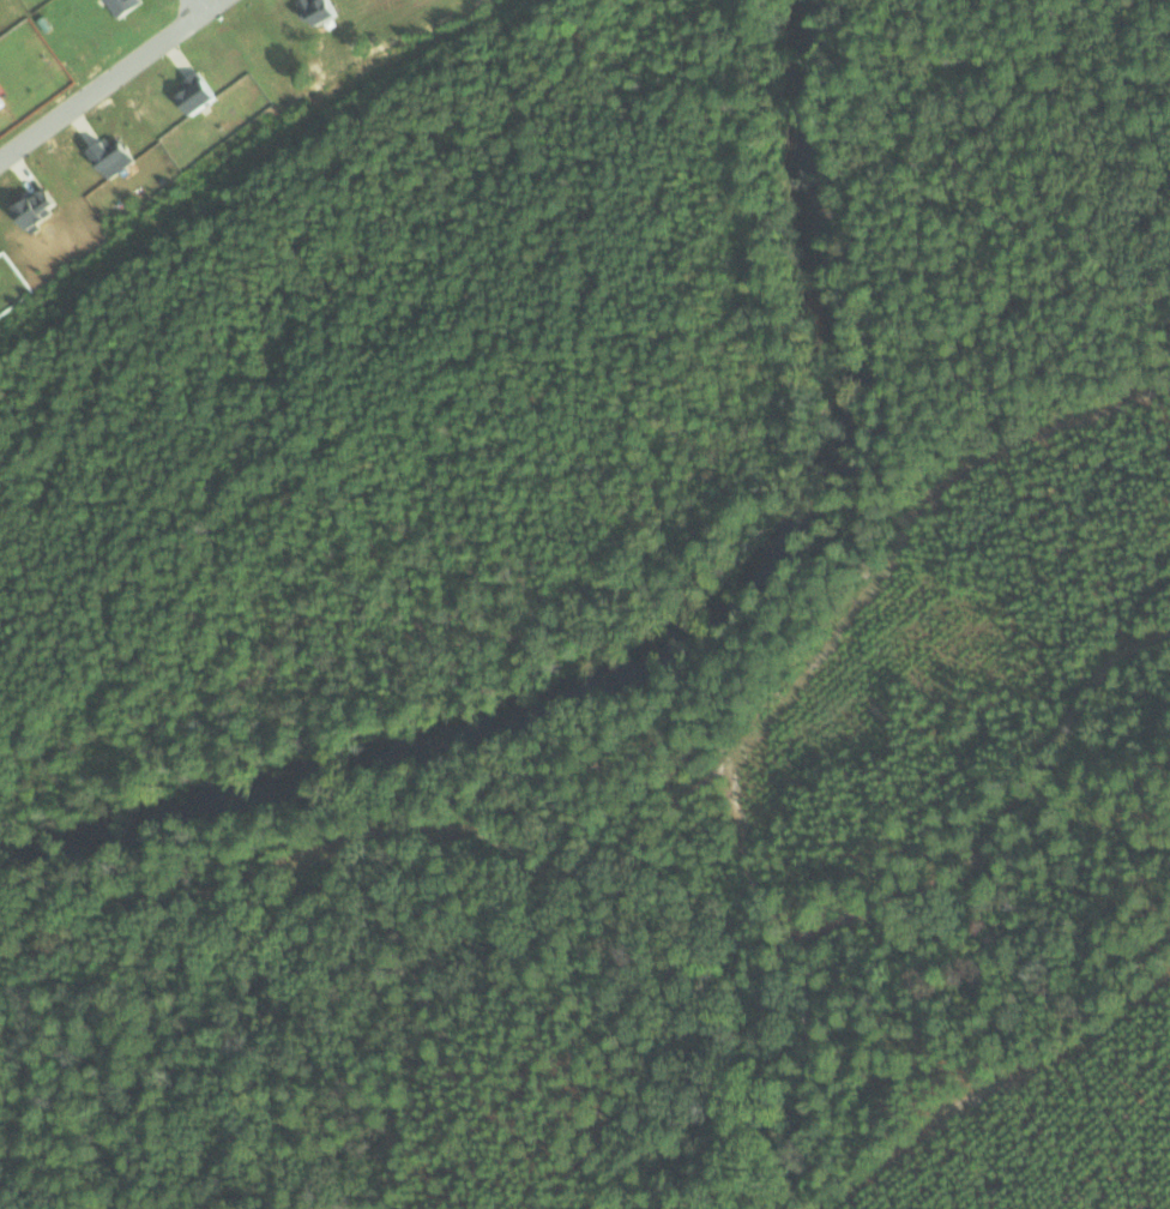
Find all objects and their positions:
building: (123, 5)
building: (322, 10)
road: (94, 73)
building: (200, 94)
building: (2, 100)
building: (116, 154)
building: (41, 205)
river: (684, 667)

